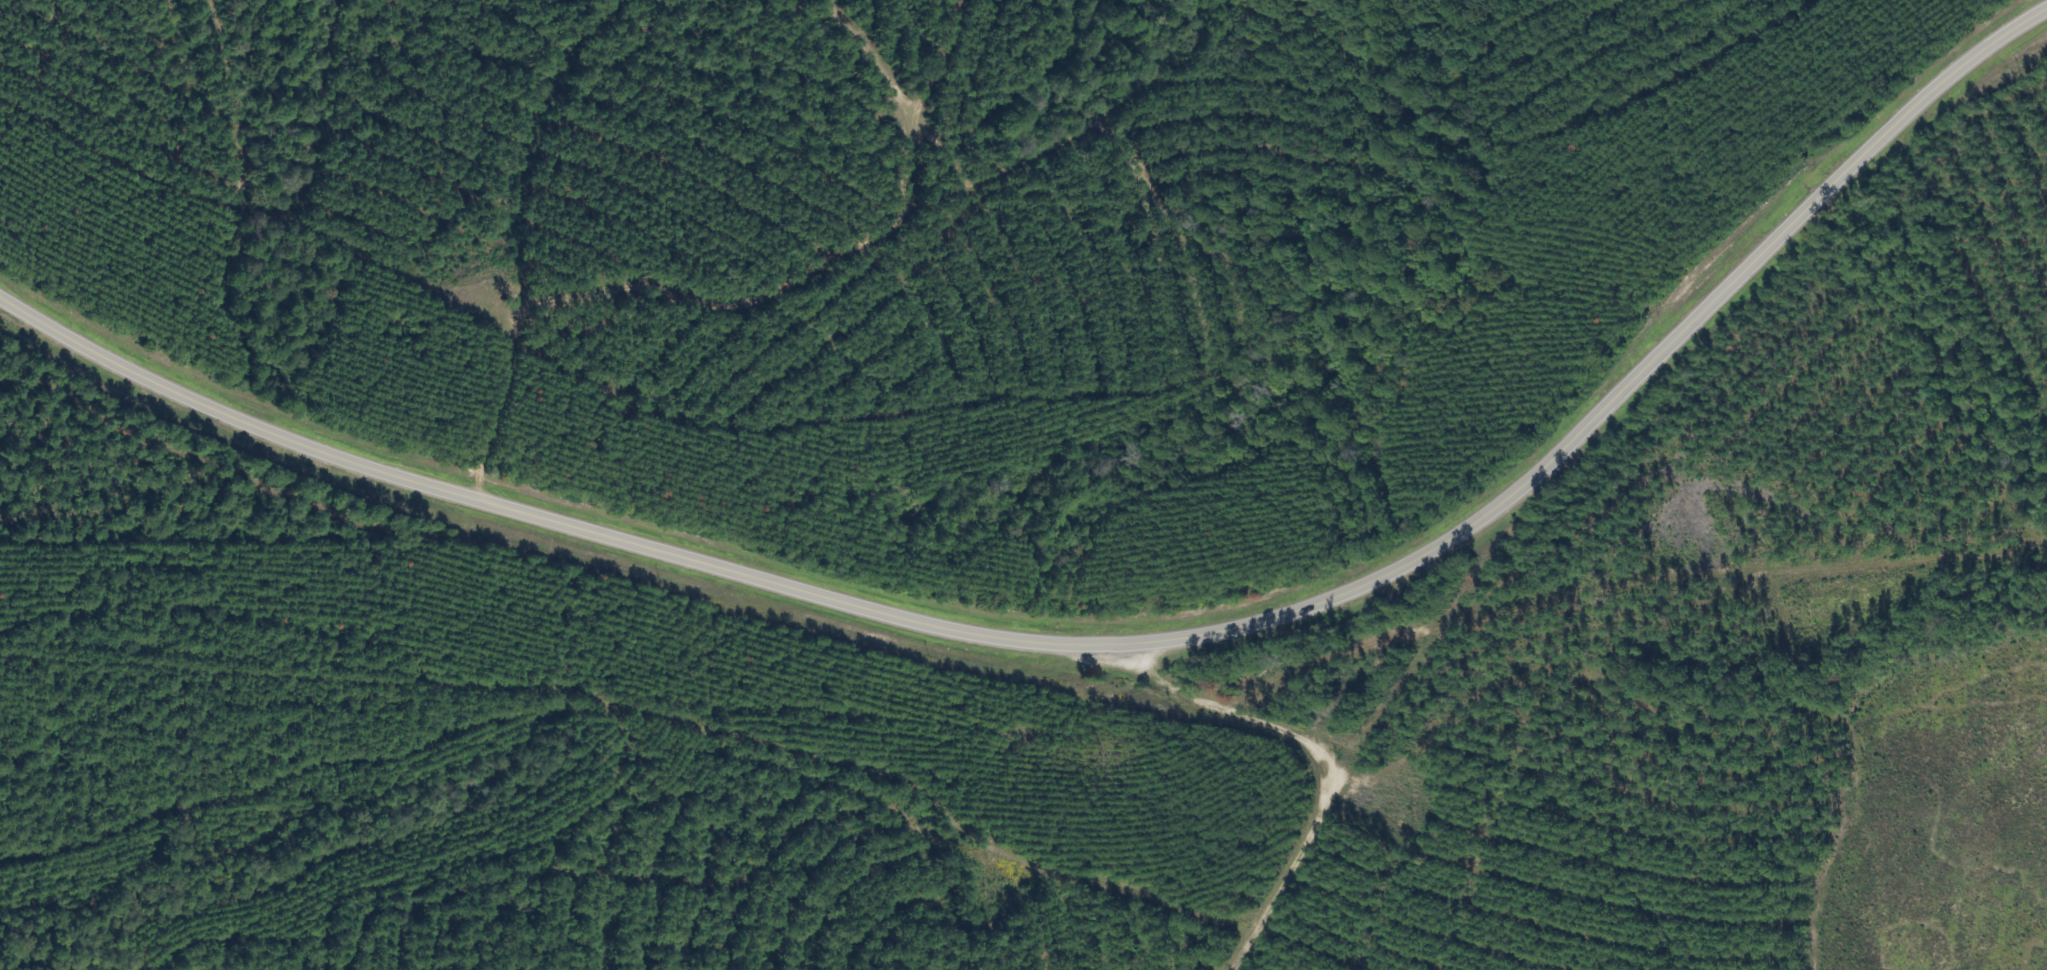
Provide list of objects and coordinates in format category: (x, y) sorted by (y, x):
road: (1103, 644)
road: (1364, 718)

